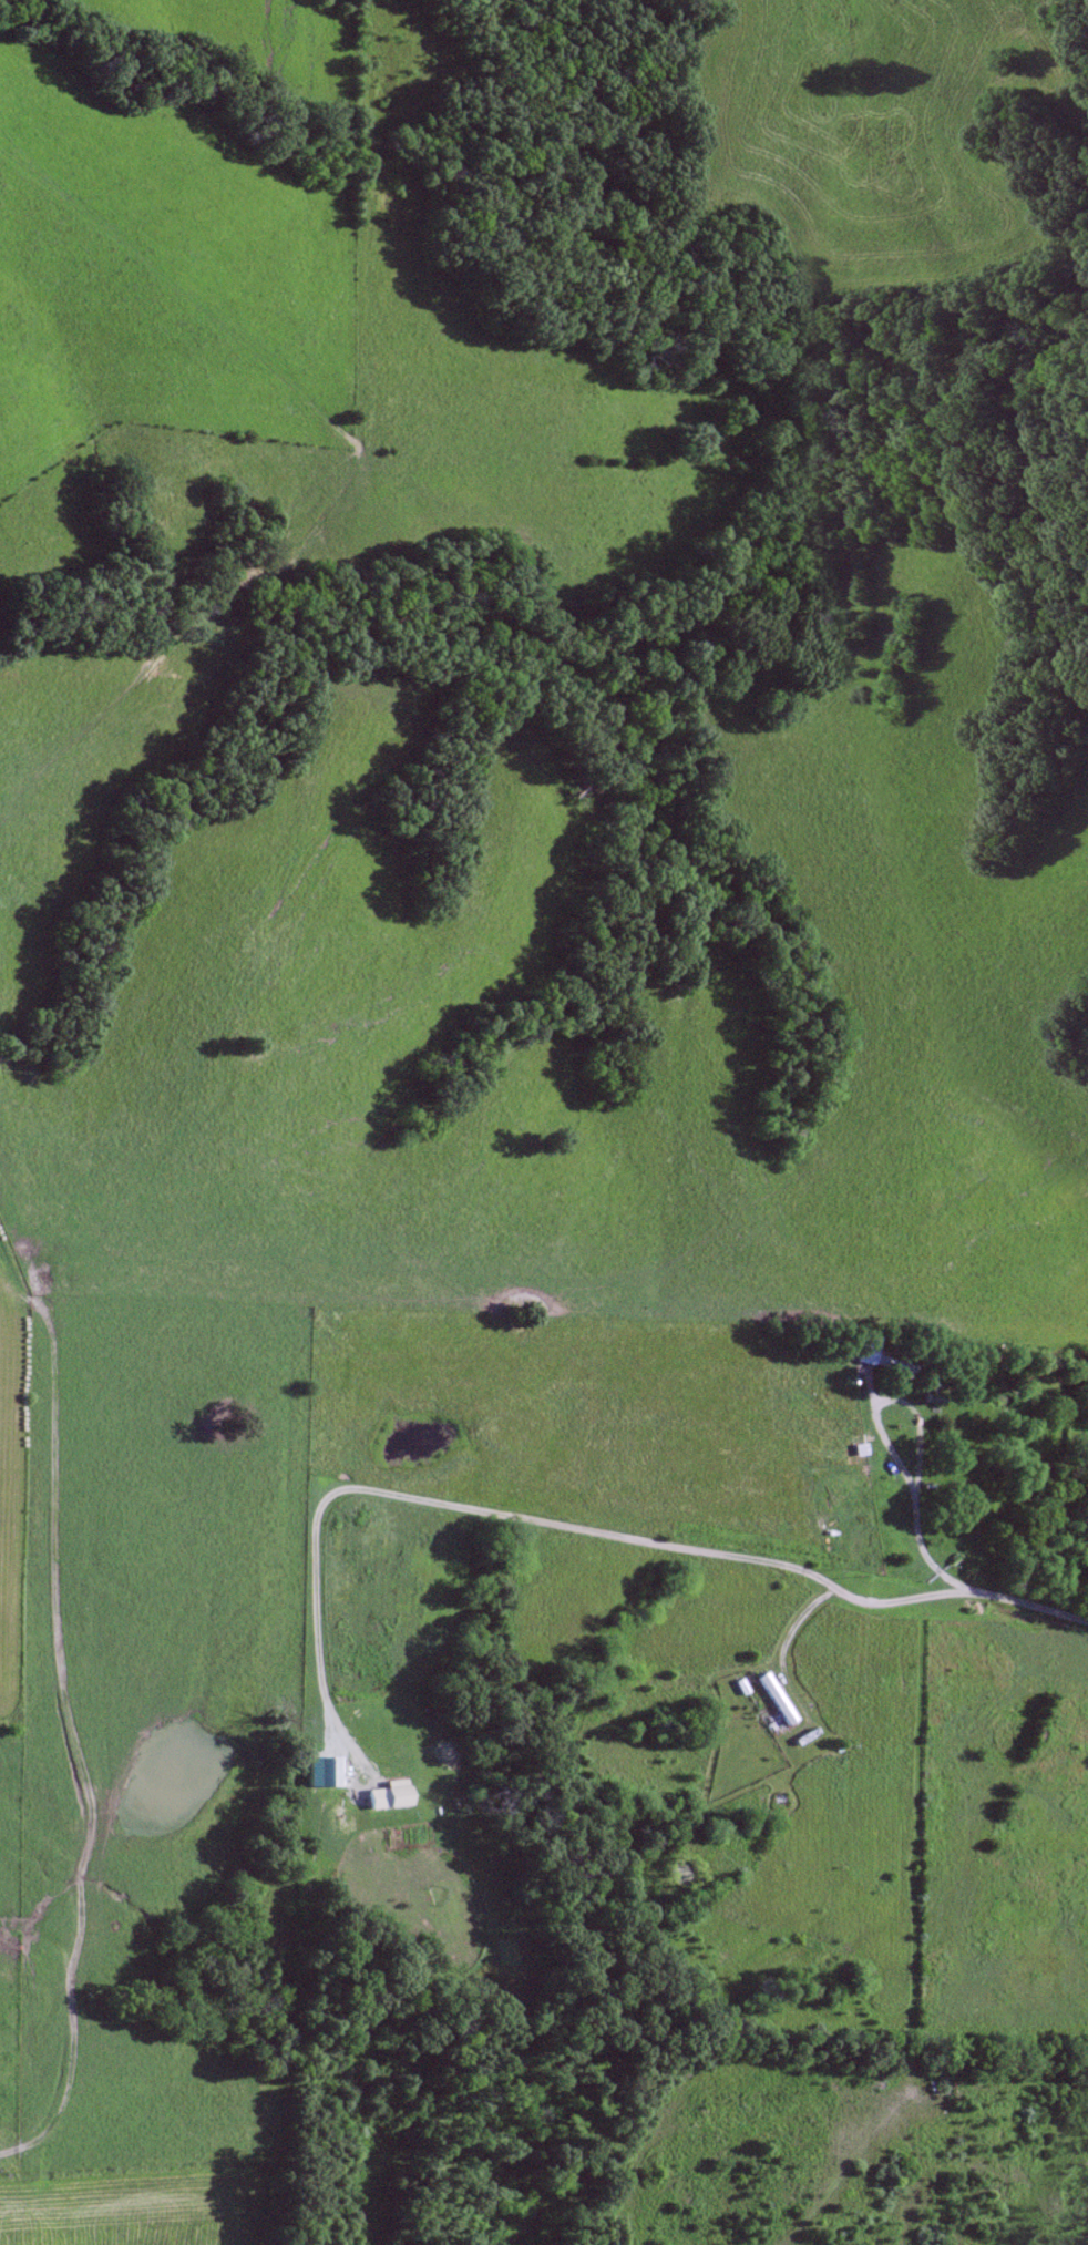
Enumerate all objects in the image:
park: (248, 1044)
building: (868, 1345)
road: (917, 1437)
road: (504, 1516)
road: (971, 1586)
road: (787, 1636)
building: (777, 1696)
road: (42, 1719)
building: (391, 1794)

